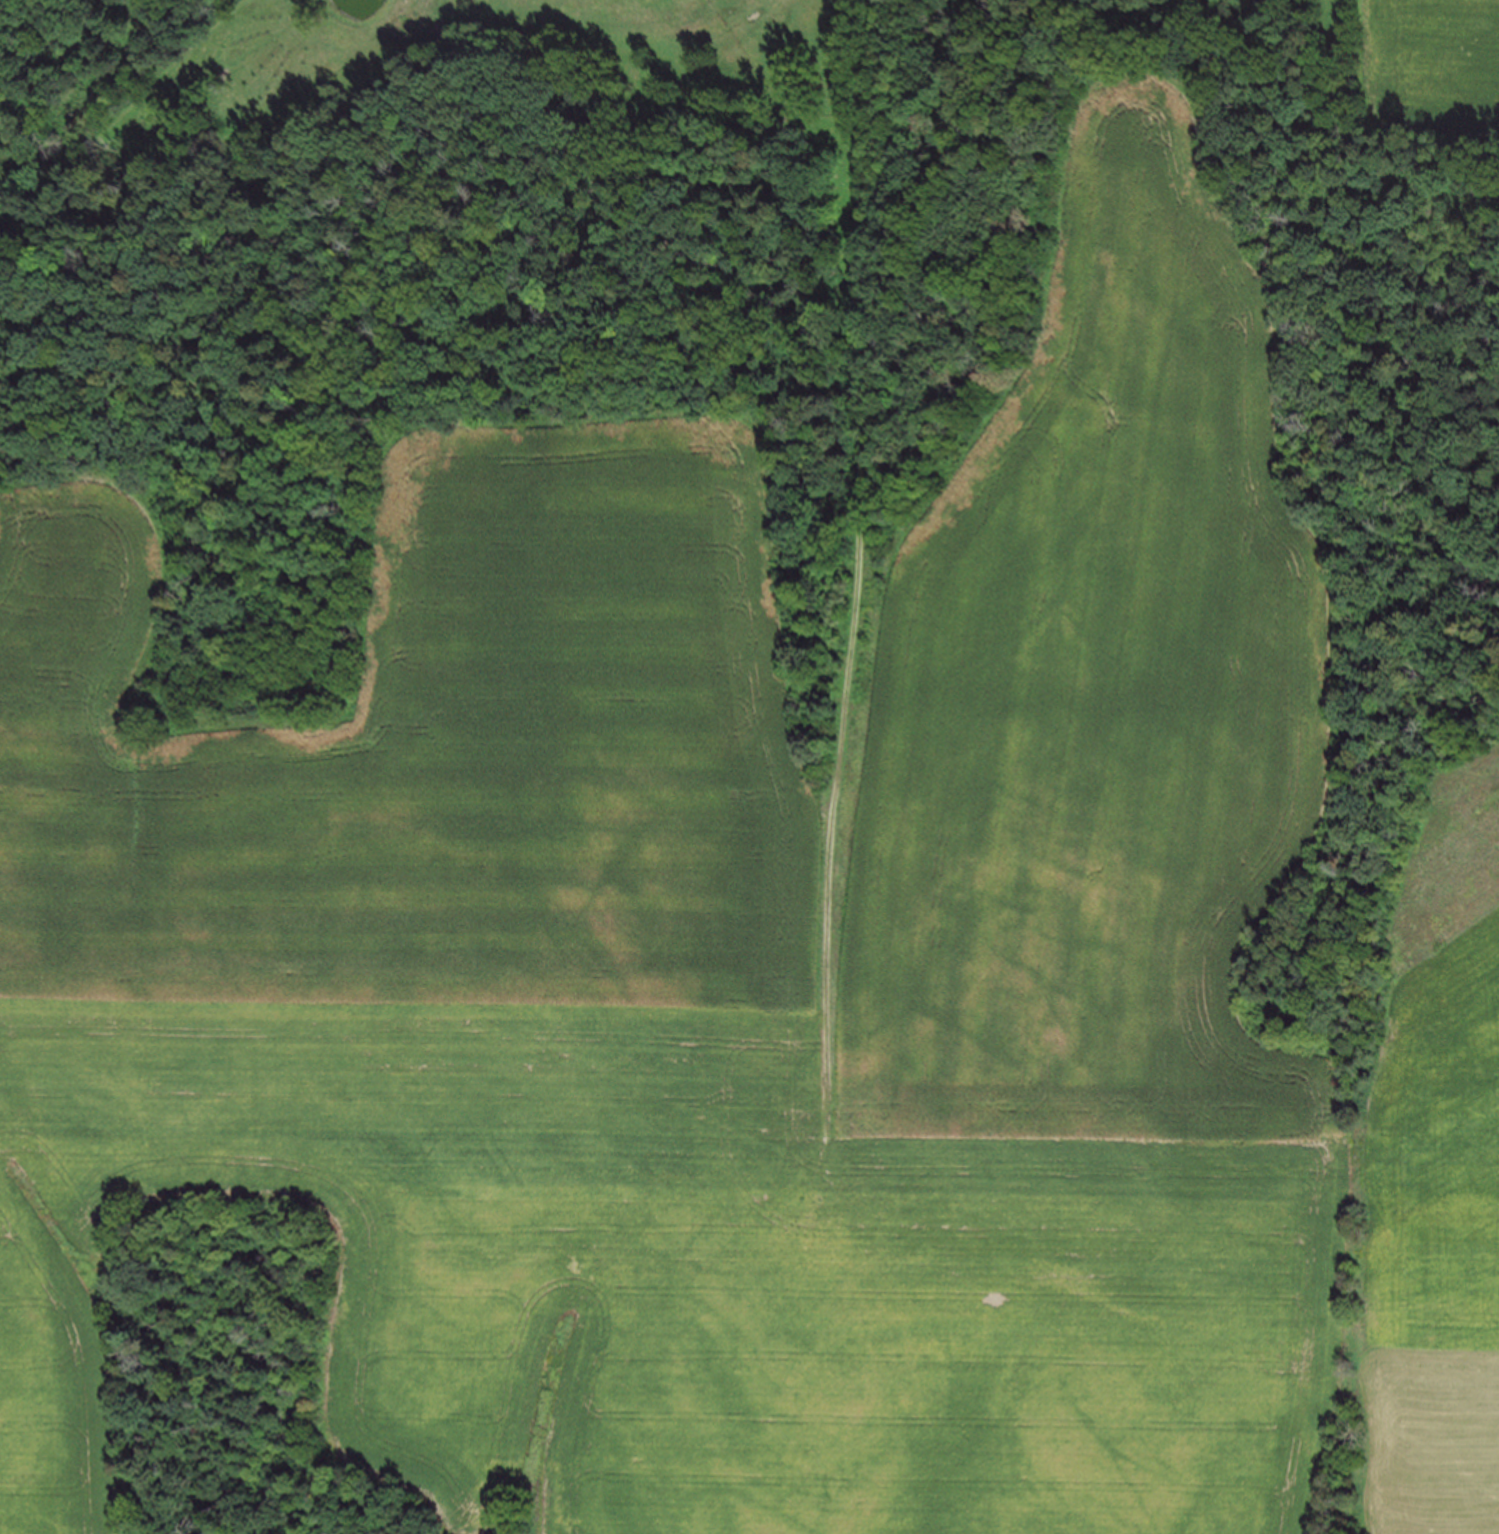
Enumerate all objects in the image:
road: (858, 576)

